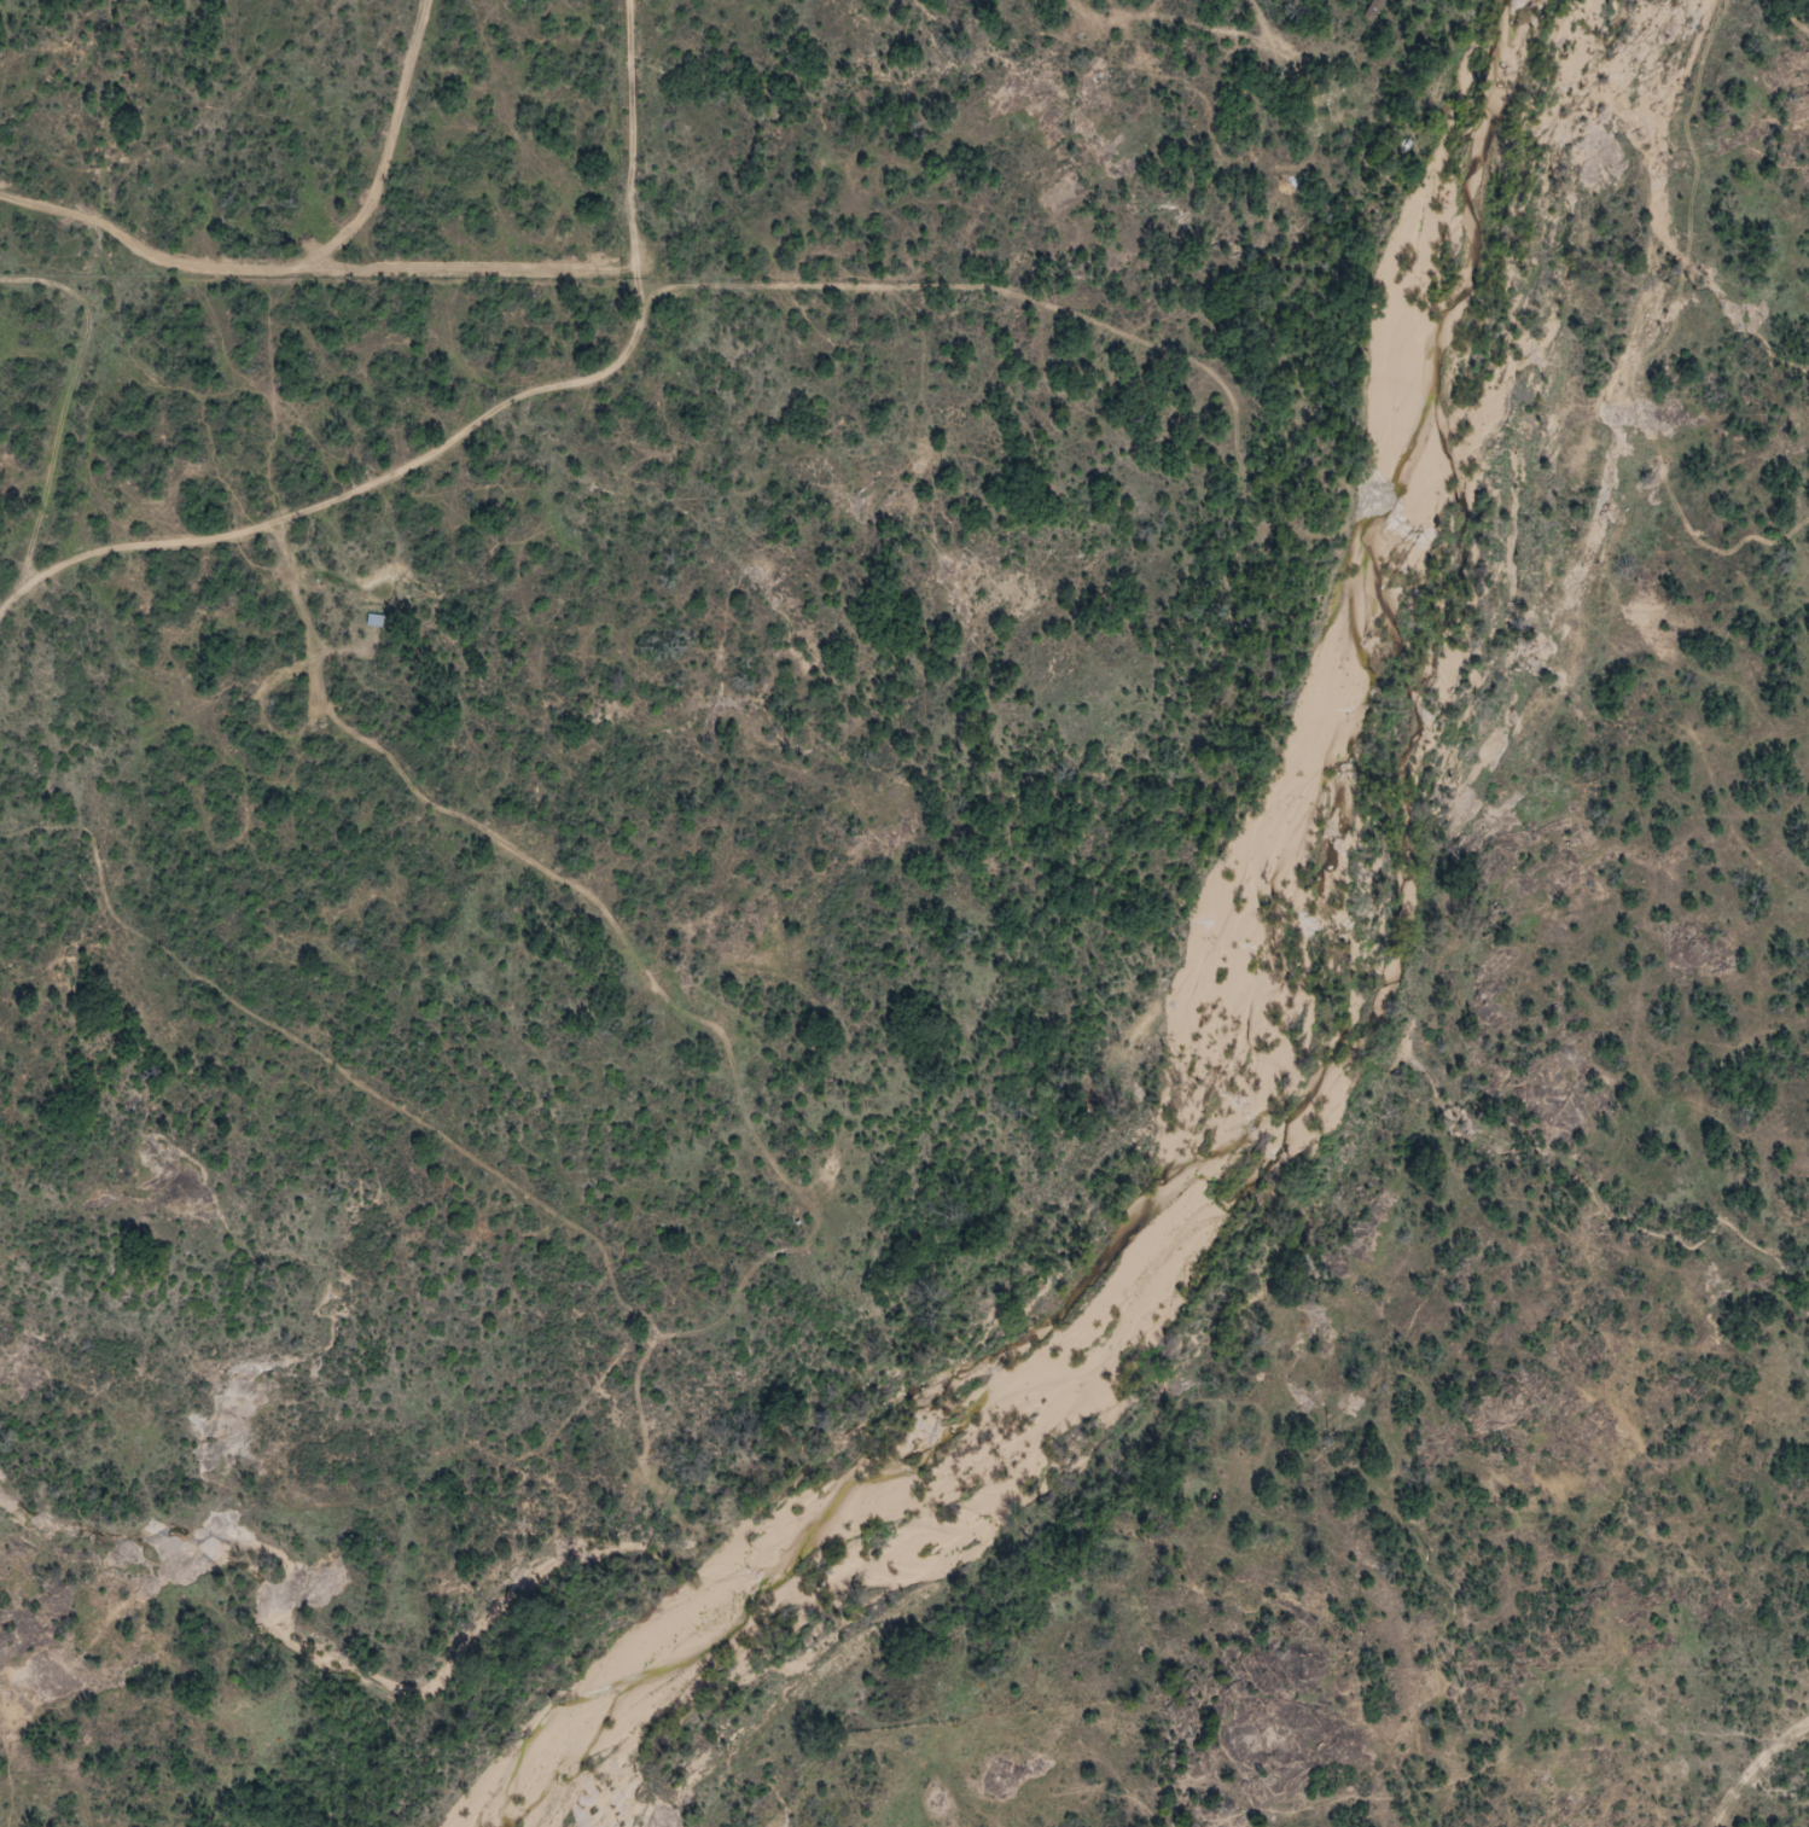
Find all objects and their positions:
building: (1375, 10)
building: (374, 622)

